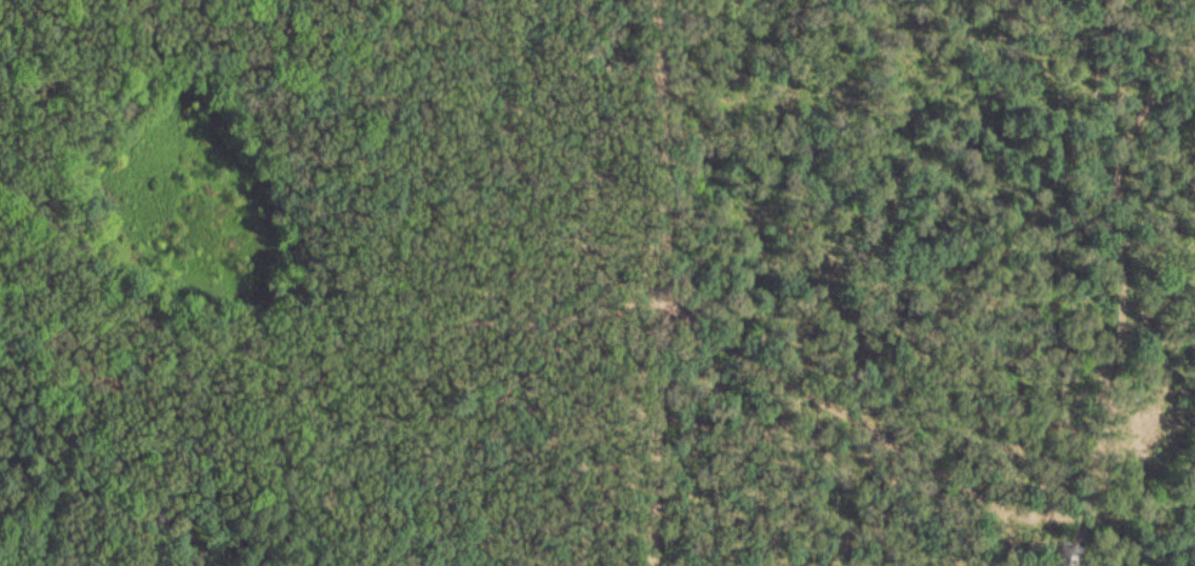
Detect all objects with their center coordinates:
road: (652, 282)
building: (1150, 438)

